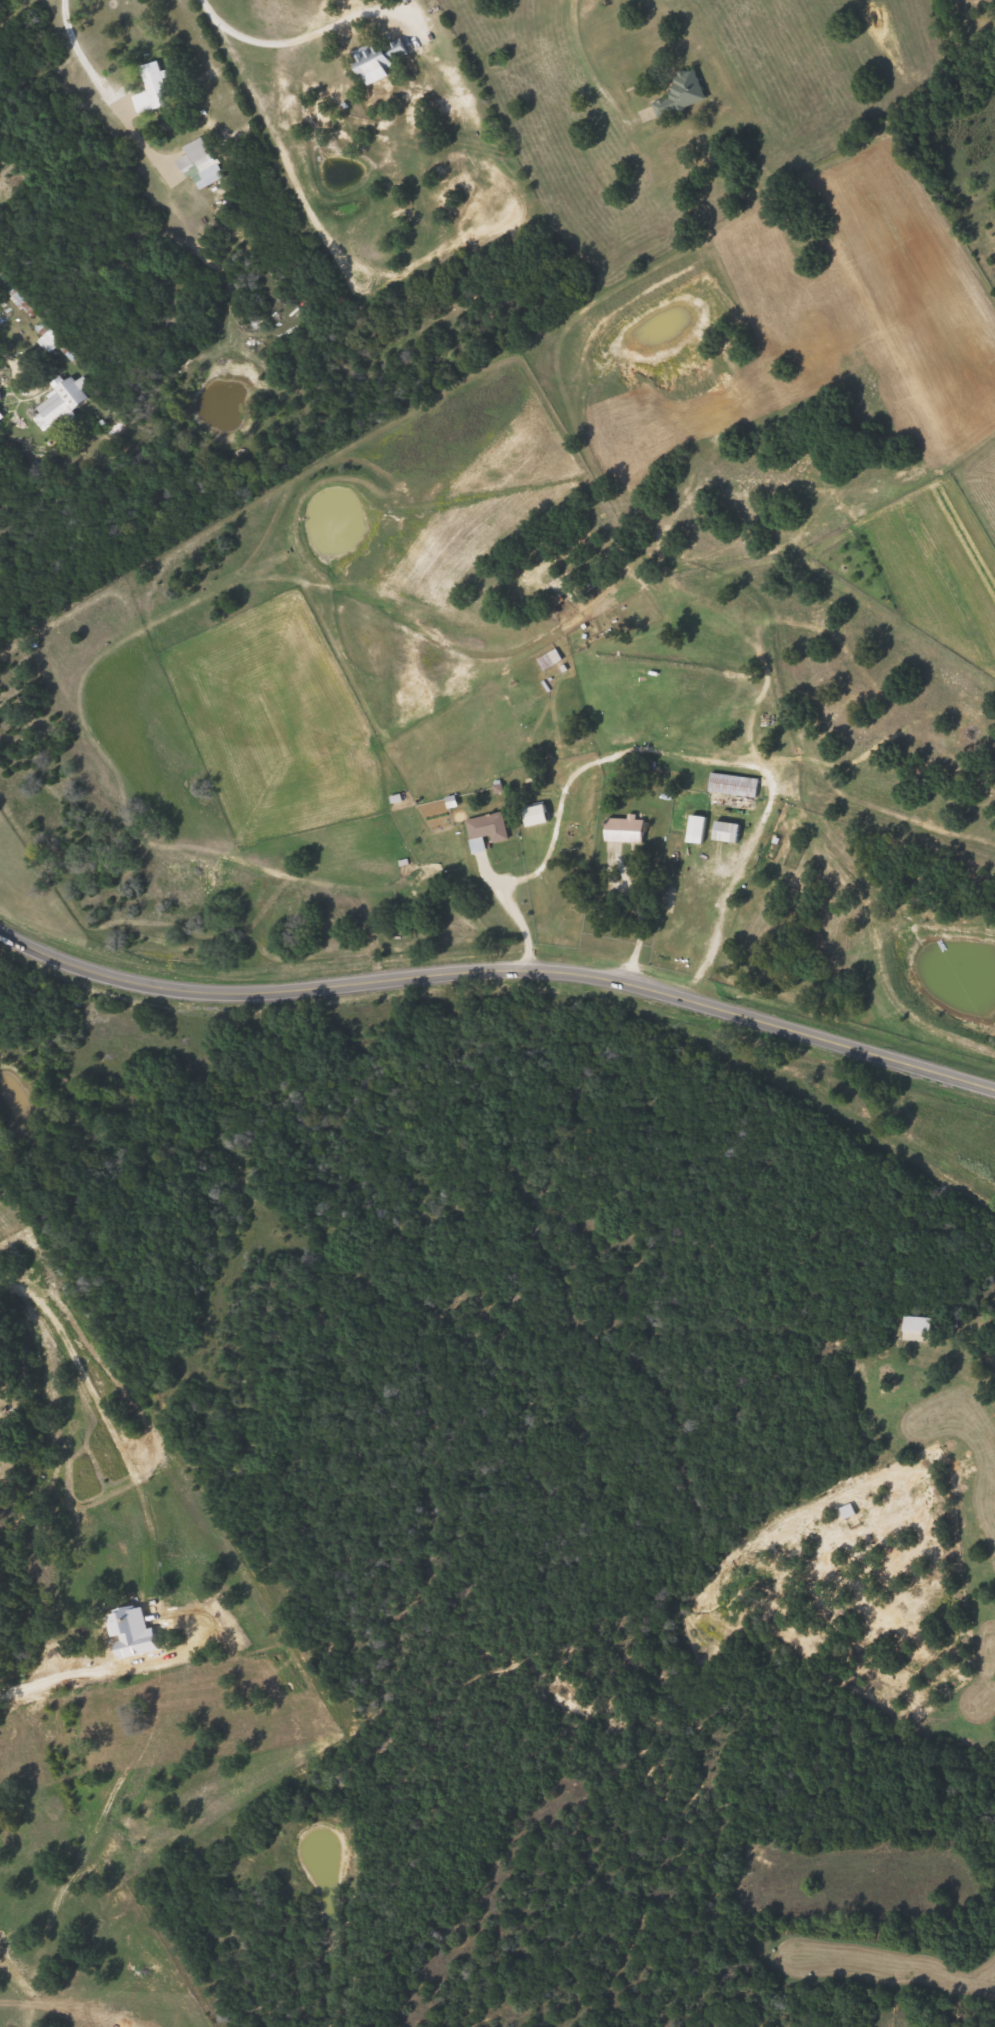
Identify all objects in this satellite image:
road: (301, 39)
road: (577, 43)
building: (377, 60)
road: (98, 81)
building: (149, 89)
building: (677, 93)
building: (200, 161)
building: (44, 340)
road: (2, 347)
building: (59, 402)
building: (730, 785)
building: (531, 815)
building: (692, 829)
building: (483, 830)
building: (621, 830)
building: (722, 832)
road: (500, 974)

